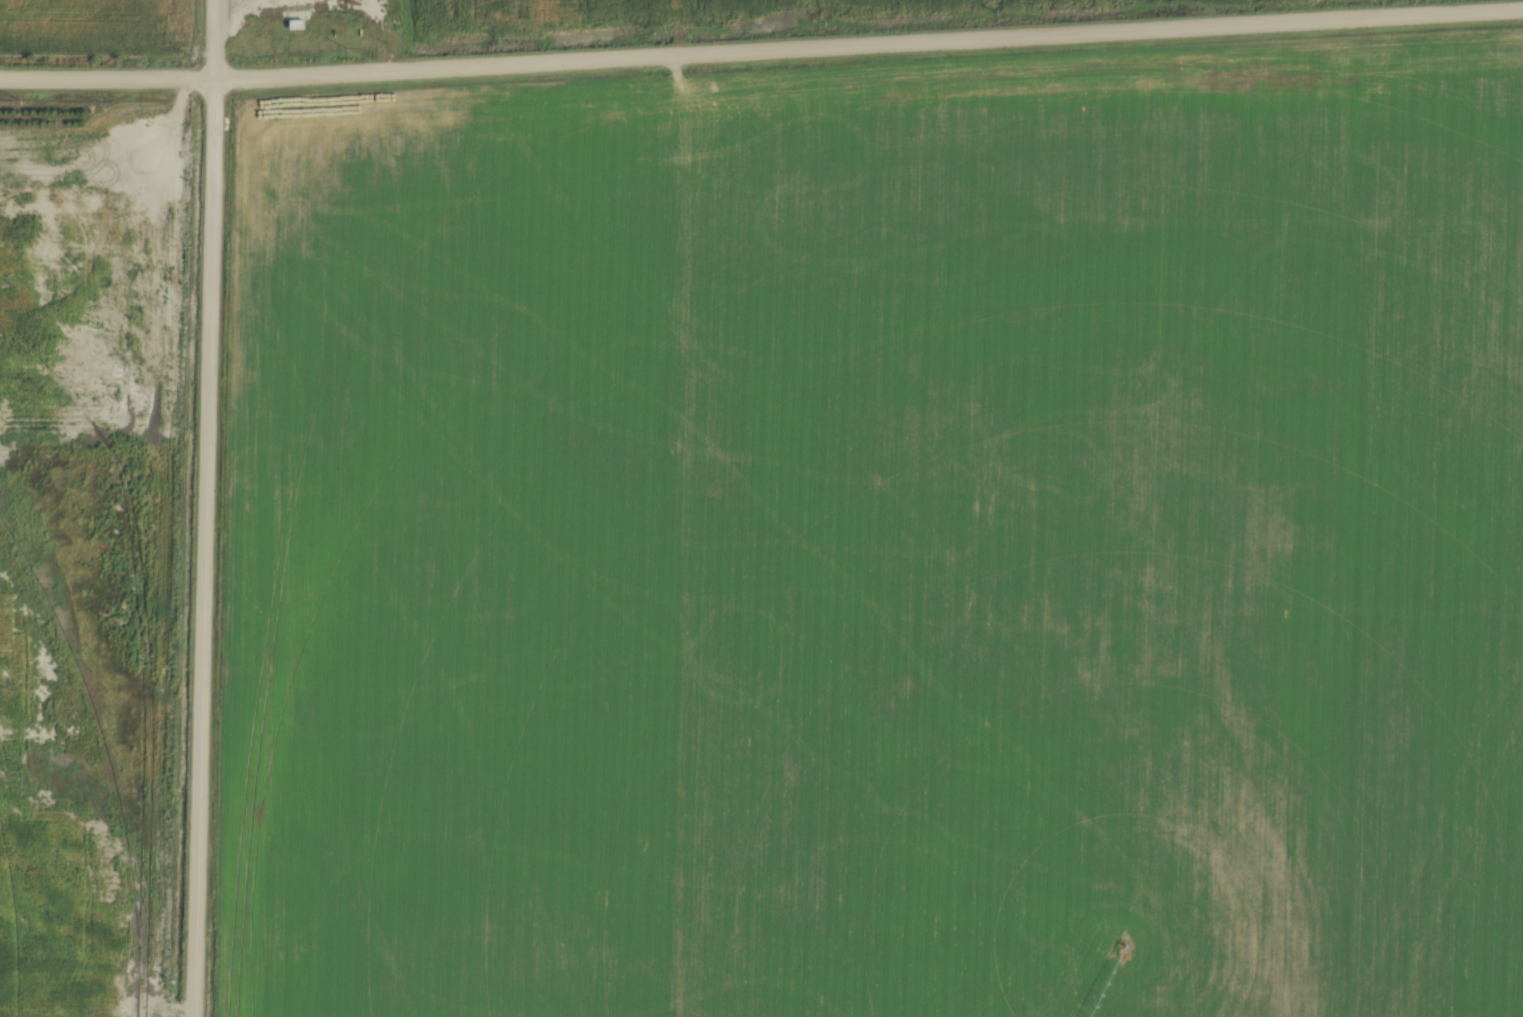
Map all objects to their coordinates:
building: (294, 25)
road: (761, 50)
building: (169, 159)
road: (205, 508)

